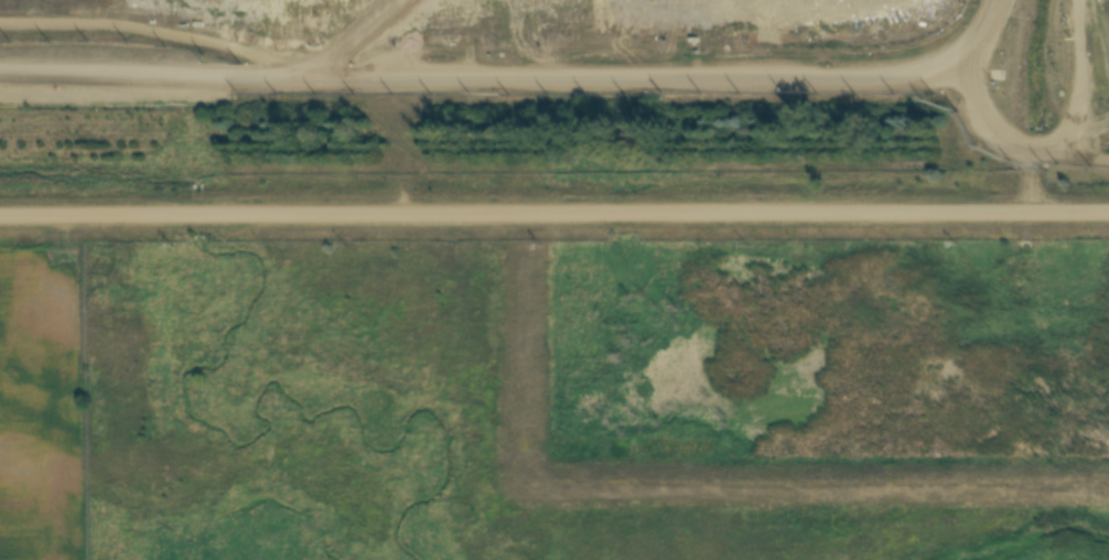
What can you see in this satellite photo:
landfill: (558, 56)
road: (481, 64)
road: (978, 110)
road: (1064, 154)
road: (554, 215)
road: (958, 260)

